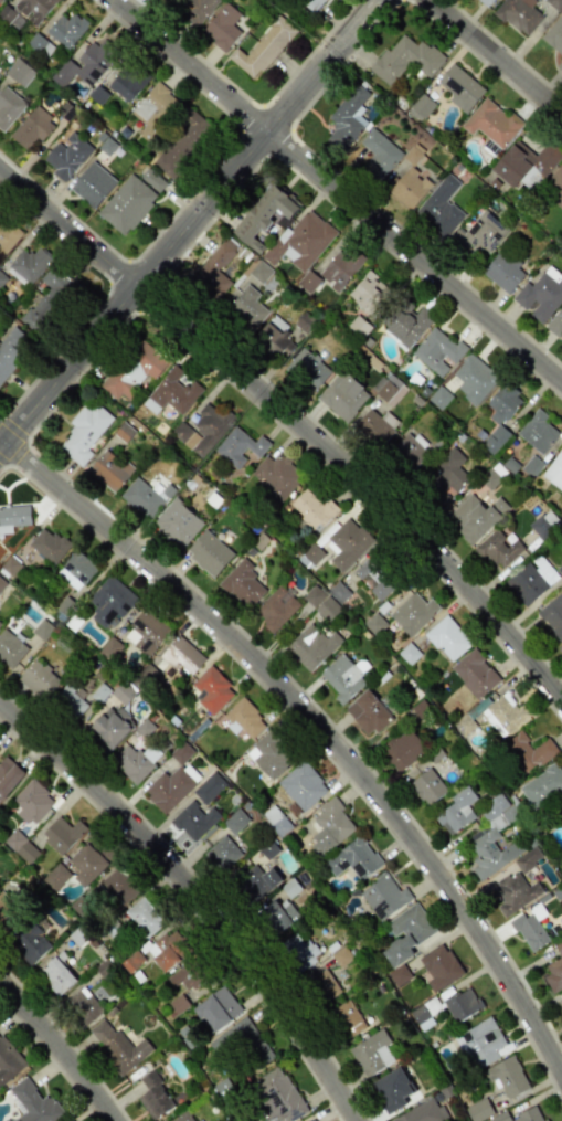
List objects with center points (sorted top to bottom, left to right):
building: (0, 0)
building: (486, 1)
building: (554, 3)
building: (311, 4)
building: (198, 9)
building: (24, 11)
building: (519, 14)
building: (222, 27)
building: (66, 29)
building: (554, 34)
building: (40, 45)
building: (263, 47)
road: (495, 57)
building: (405, 59)
building: (94, 61)
building: (559, 64)
building: (19, 72)
building: (63, 73)
building: (125, 86)
building: (459, 87)
building: (97, 95)
road: (250, 101)
building: (8, 106)
building: (422, 106)
building: (153, 110)
building: (347, 118)
building: (491, 123)
building: (32, 127)
building: (182, 145)
building: (379, 152)
building: (67, 156)
building: (526, 165)
building: (151, 179)
building: (92, 184)
building: (554, 187)
building: (410, 189)
road: (337, 193)
building: (126, 204)
building: (439, 207)
building: (263, 214)
road: (189, 225)
building: (485, 232)
building: (7, 235)
building: (301, 240)
building: (28, 264)
building: (215, 267)
building: (339, 268)
building: (503, 271)
building: (259, 272)
building: (2, 278)
building: (308, 282)
building: (369, 293)
building: (541, 294)
building: (49, 299)
building: (245, 305)
building: (555, 322)
building: (406, 325)
building: (274, 337)
building: (11, 349)
building: (437, 351)
building: (307, 368)
building: (135, 369)
building: (475, 379)
building: (390, 390)
building: (171, 392)
building: (342, 395)
building: (499, 416)
road: (294, 425)
building: (375, 425)
building: (205, 427)
building: (84, 431)
building: (537, 432)
building: (238, 446)
building: (409, 451)
building: (109, 469)
building: (449, 469)
building: (554, 470)
building: (276, 475)
building: (145, 496)
building: (311, 508)
building: (474, 516)
building: (13, 517)
building: (177, 524)
building: (544, 525)
building: (344, 542)
building: (49, 544)
building: (497, 549)
building: (209, 552)
building: (76, 570)
building: (375, 577)
building: (530, 580)
building: (1, 583)
building: (242, 583)
building: (339, 591)
building: (109, 601)
building: (321, 602)
building: (280, 604)
building: (413, 612)
building: (552, 615)
building: (0, 623)
building: (146, 632)
building: (447, 638)
building: (560, 646)
building: (314, 647)
building: (10, 648)
building: (110, 648)
building: (409, 654)
building: (181, 655)
building: (475, 673)
building: (342, 676)
building: (39, 678)
building: (212, 689)
building: (123, 692)
building: (70, 701)
building: (367, 712)
building: (508, 712)
building: (242, 719)
building: (110, 726)
road: (316, 727)
building: (403, 748)
building: (528, 751)
building: (271, 753)
building: (135, 761)
building: (8, 775)
building: (301, 785)
building: (170, 786)
building: (427, 786)
building: (209, 787)
building: (543, 789)
building: (32, 802)
building: (457, 811)
building: (561, 813)
building: (193, 819)
building: (276, 819)
building: (235, 821)
building: (330, 826)
building: (62, 834)
building: (21, 846)
building: (222, 853)
building: (490, 853)
building: (353, 858)
building: (528, 859)
building: (87, 864)
building: (56, 877)
building: (257, 880)
building: (119, 885)
building: (512, 892)
building: (383, 896)
road: (198, 897)
building: (6, 908)
building: (279, 913)
building: (145, 917)
building: (529, 931)
building: (405, 933)
building: (30, 944)
building: (167, 949)
building: (303, 950)
building: (341, 956)
building: (439, 966)
building: (554, 970)
building: (399, 974)
building: (56, 975)
building: (185, 975)
building: (325, 984)
building: (560, 1002)
building: (462, 1004)
building: (83, 1006)
building: (216, 1009)
building: (422, 1017)
building: (348, 1018)
building: (242, 1041)
building: (480, 1043)
building: (117, 1045)
road: (60, 1050)
building: (372, 1053)
building: (8, 1061)
building: (507, 1077)
building: (392, 1090)
building: (278, 1096)
building: (155, 1097)
building: (34, 1103)
building: (479, 1110)
building: (423, 1112)
building: (520, 1115)
building: (183, 1118)
building: (70, 1120)
building: (311, 1120)

